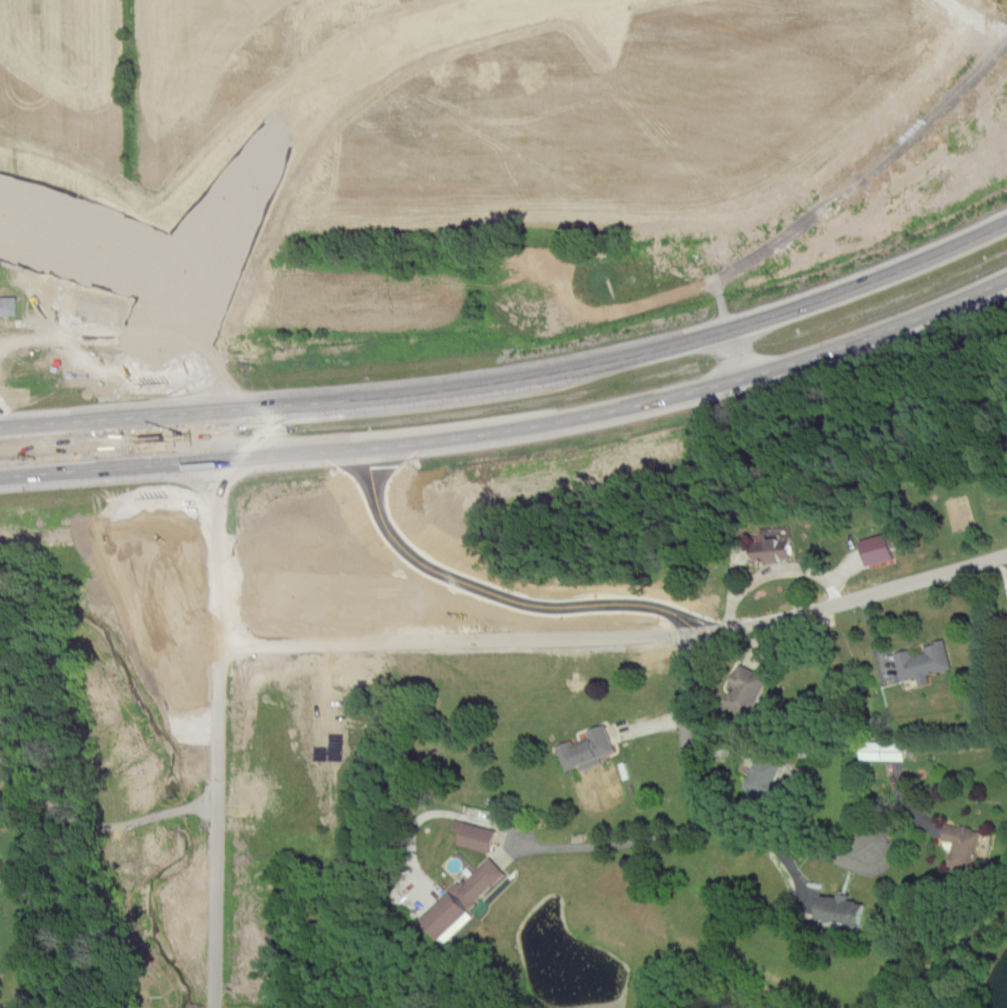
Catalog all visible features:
road: (286, 123)
road: (91, 243)
building: (548, 260)
building: (6, 304)
road: (515, 377)
road: (514, 428)
road: (150, 438)
building: (876, 548)
building: (774, 550)
road: (847, 566)
road: (782, 571)
road: (592, 636)
road: (762, 639)
building: (921, 661)
building: (746, 680)
road: (661, 715)
building: (318, 723)
building: (585, 749)
road: (197, 750)
building: (882, 750)
building: (762, 776)
road: (717, 801)
road: (100, 822)
road: (627, 834)
building: (962, 840)
building: (0, 876)
building: (460, 899)
building: (838, 909)

